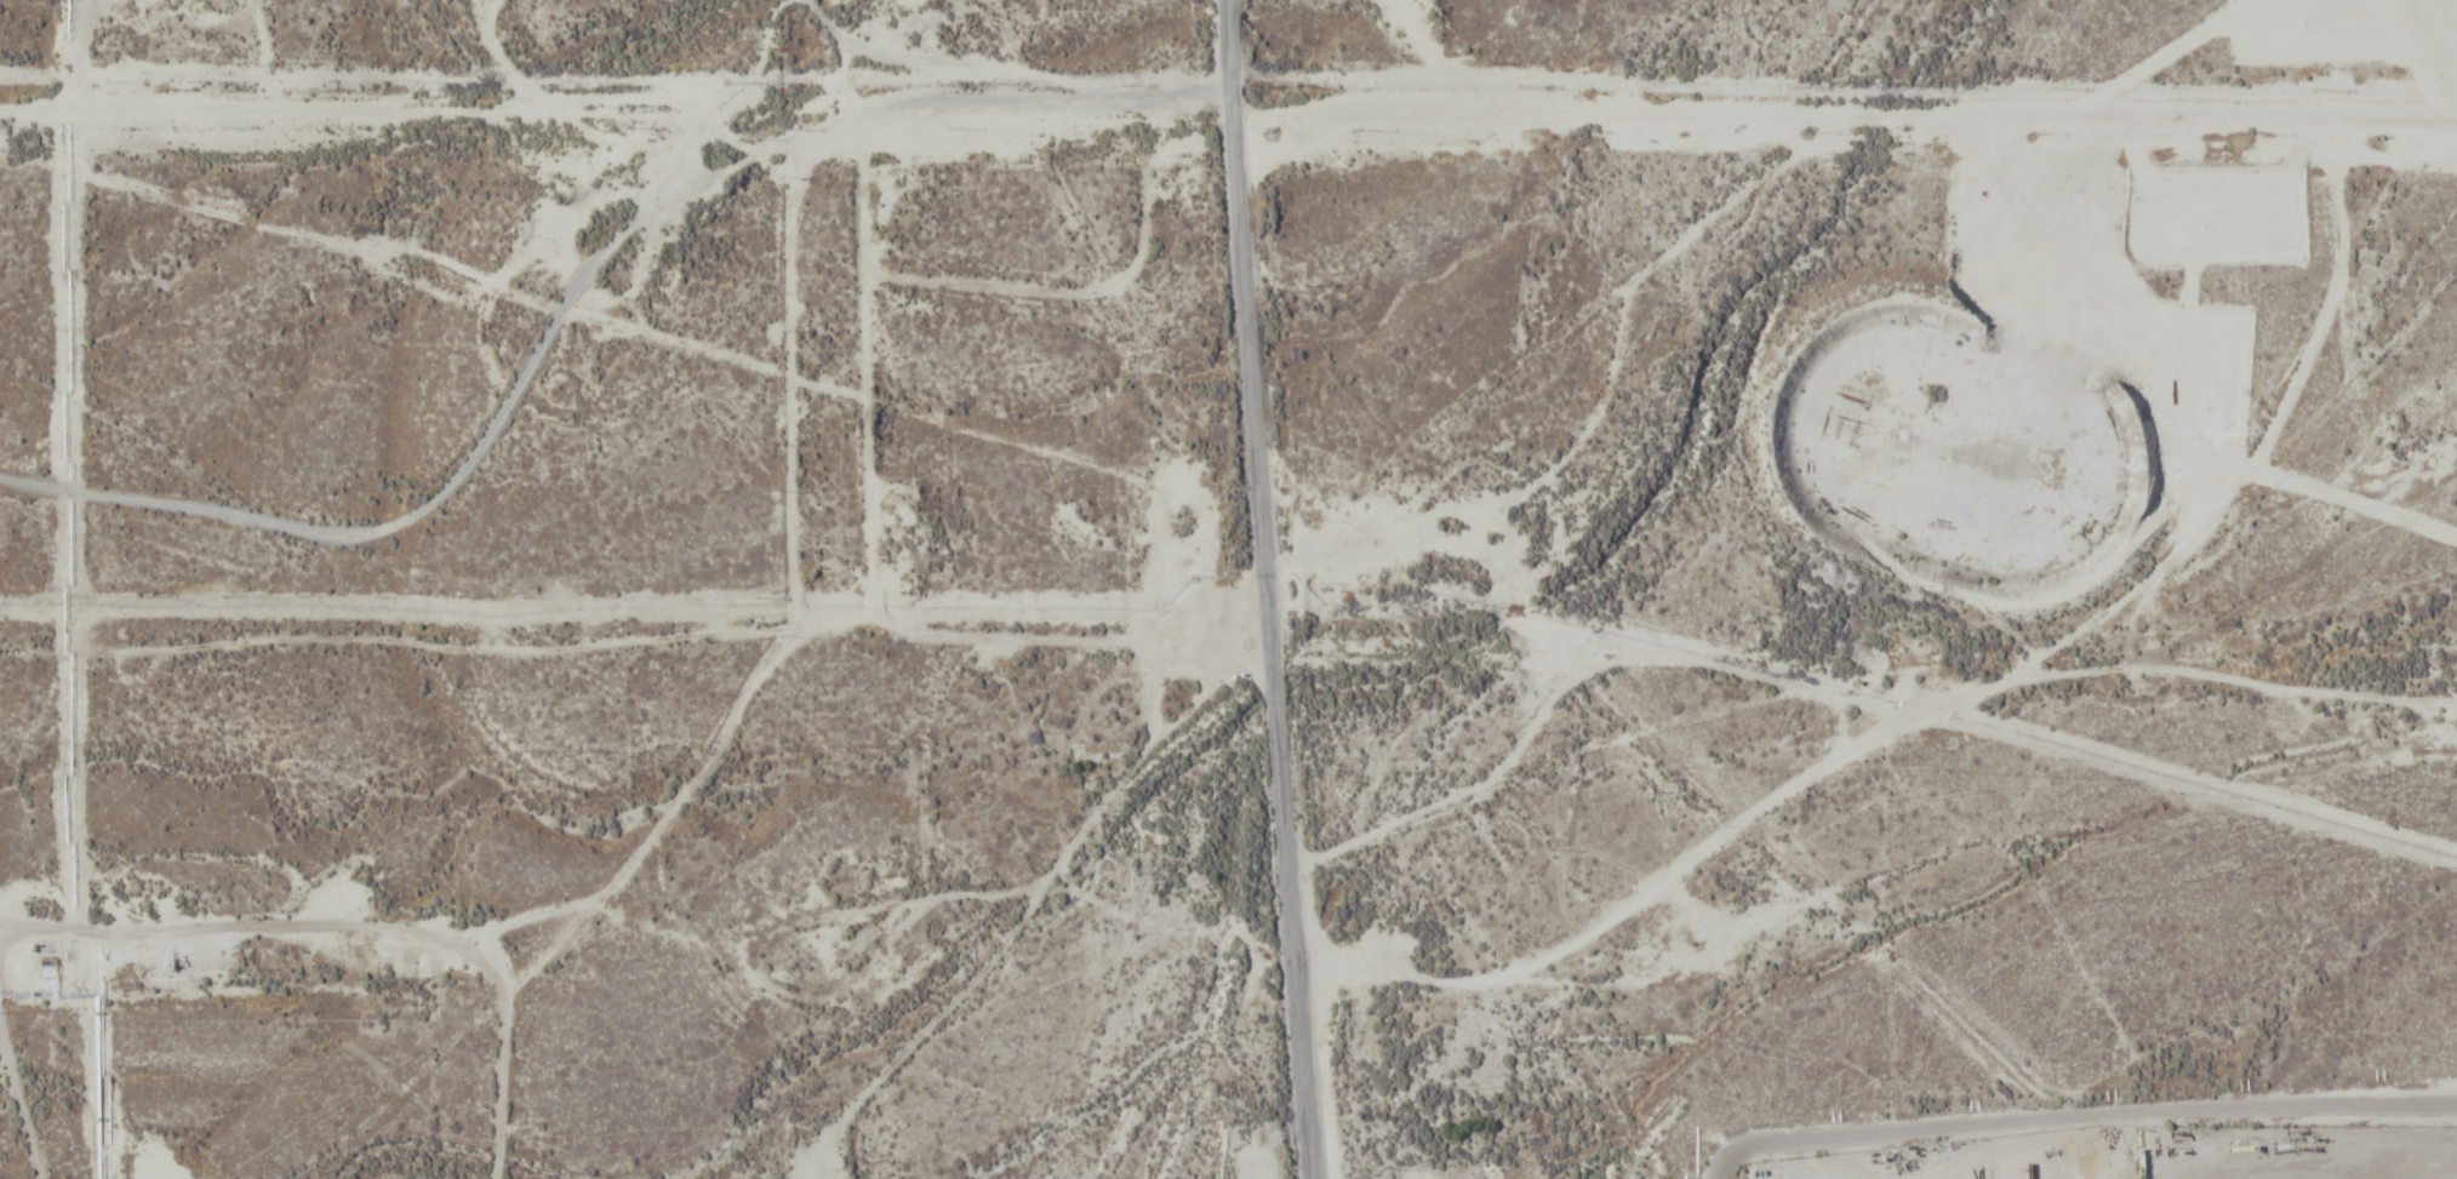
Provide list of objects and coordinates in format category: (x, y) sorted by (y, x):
road: (584, 296)
road: (1269, 589)
road: (639, 643)
road: (1855, 761)
road: (19, 1097)

